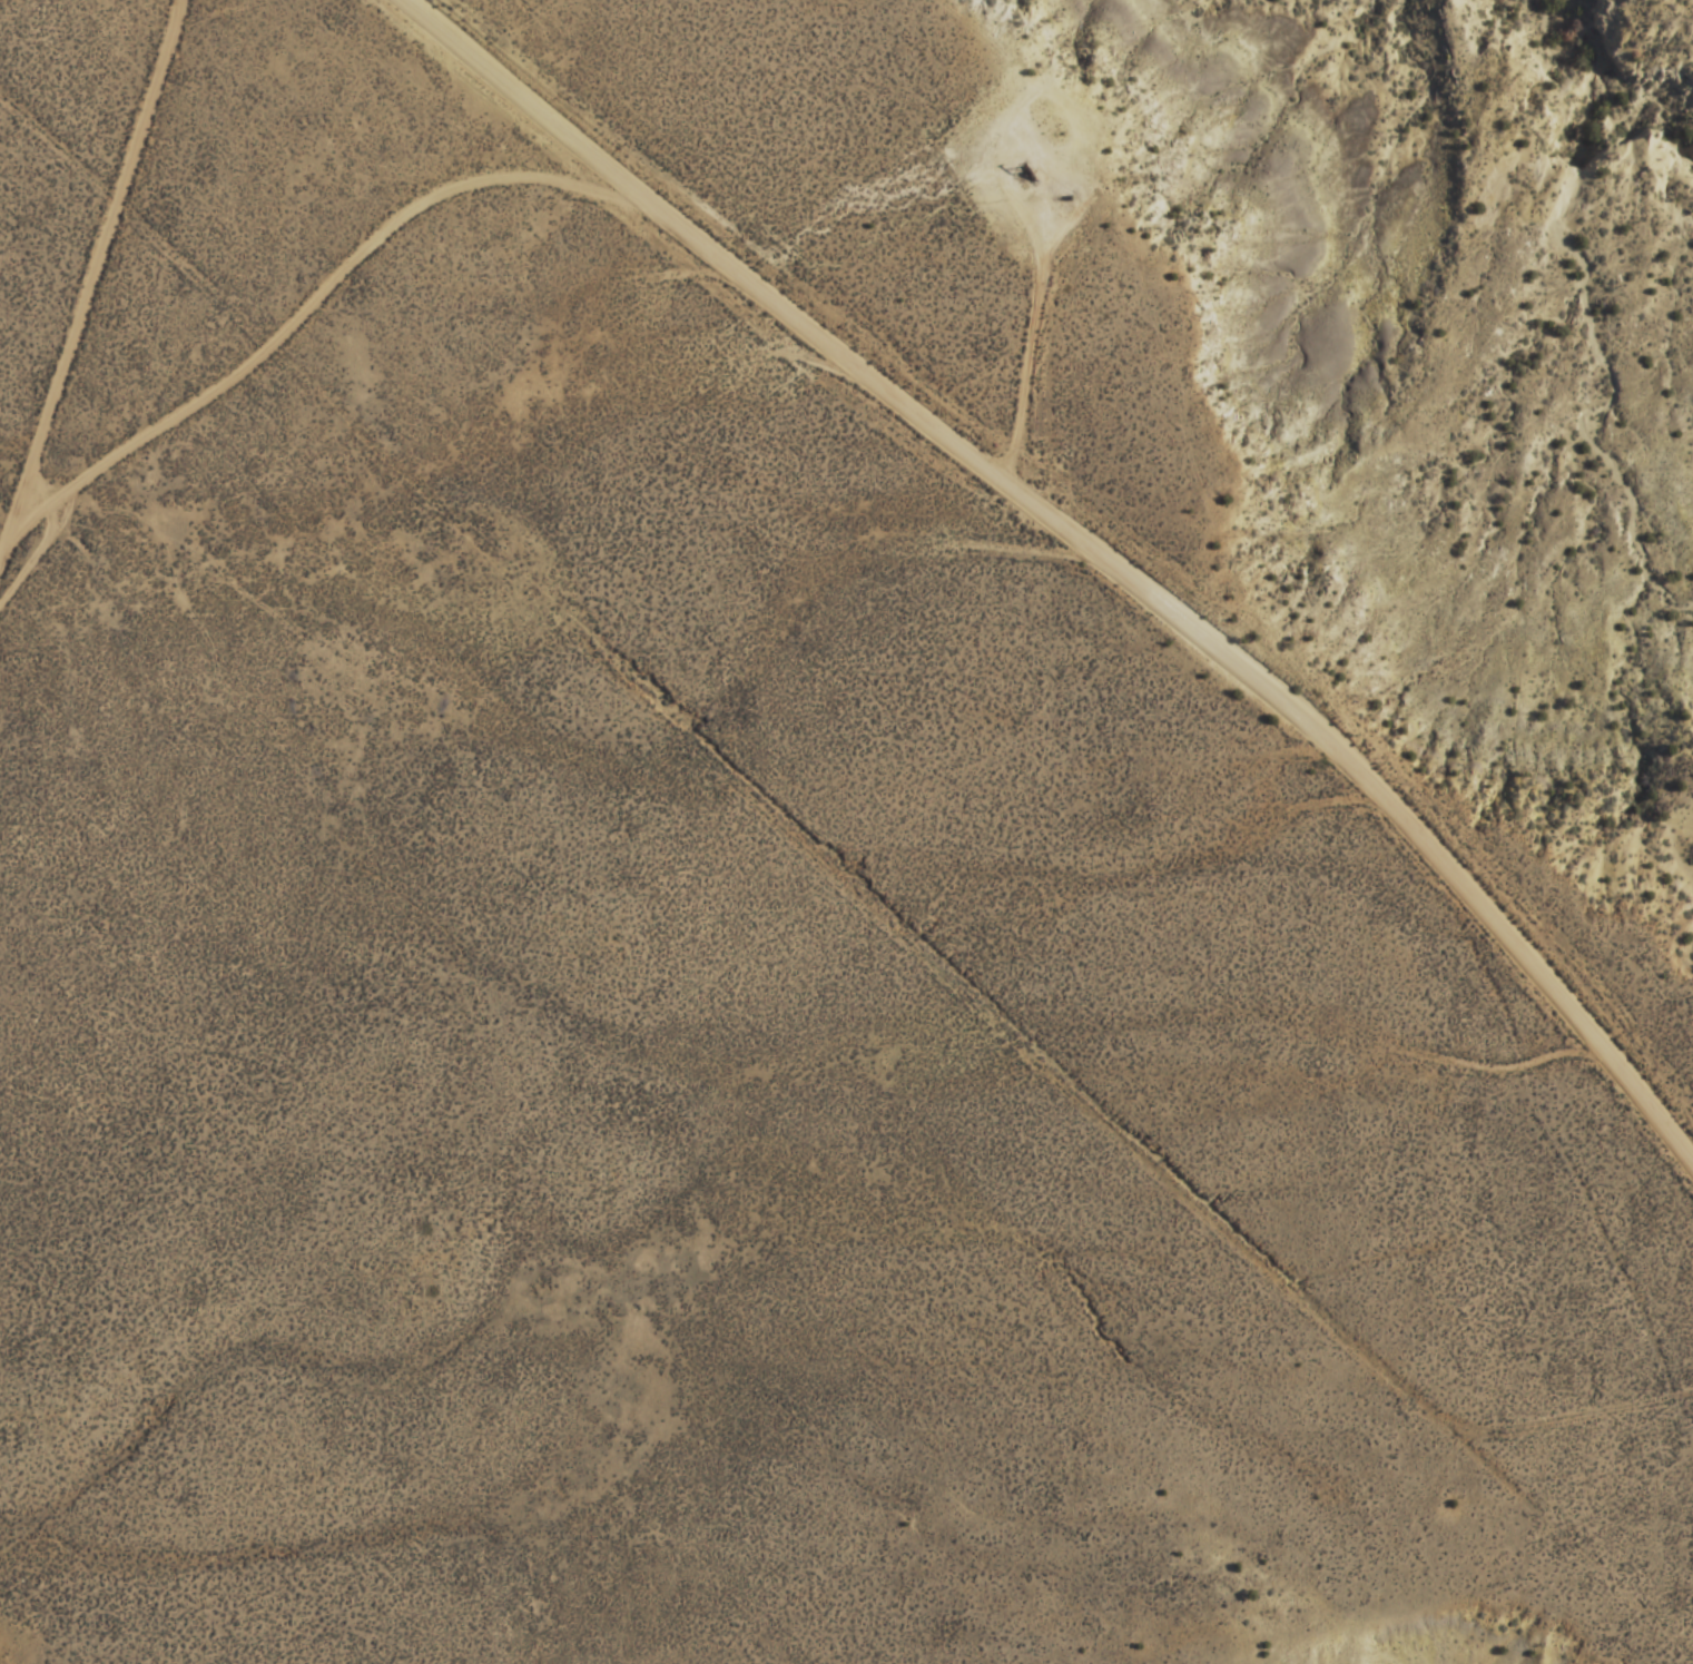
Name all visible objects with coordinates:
road: (110, 293)
road: (1083, 547)

